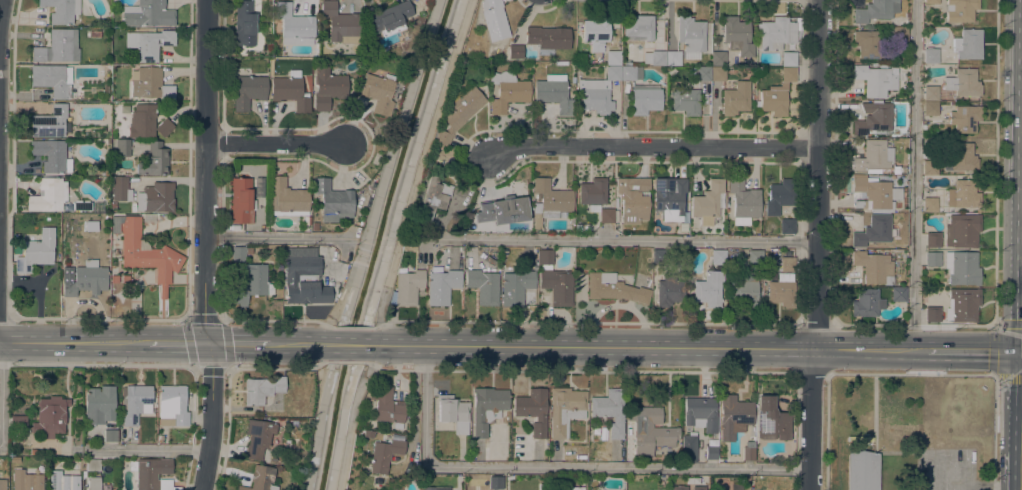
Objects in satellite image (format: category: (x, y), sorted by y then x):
building: (931, 1)
building: (61, 10)
building: (876, 10)
building: (960, 10)
building: (147, 14)
road: (2, 17)
building: (388, 18)
building: (493, 19)
building: (293, 21)
building: (243, 23)
building: (340, 23)
building: (639, 26)
building: (596, 32)
building: (775, 33)
building: (899, 33)
building: (94, 34)
building: (690, 34)
building: (737, 36)
building: (548, 37)
building: (148, 43)
building: (866, 43)
building: (967, 44)
building: (58, 47)
building: (515, 52)
building: (930, 55)
building: (654, 57)
building: (613, 58)
building: (673, 58)
building: (718, 58)
building: (788, 59)
building: (691, 71)
building: (630, 73)
building: (703, 74)
building: (718, 74)
building: (50, 79)
building: (876, 79)
building: (962, 83)
building: (149, 84)
building: (327, 88)
building: (507, 90)
building: (248, 91)
building: (290, 91)
building: (597, 91)
building: (378, 92)
building: (553, 93)
building: (930, 93)
building: (777, 94)
building: (645, 98)
building: (735, 98)
building: (685, 101)
building: (930, 108)
building: (459, 111)
building: (873, 117)
building: (964, 118)
building: (51, 122)
building: (146, 122)
road: (431, 143)
road: (277, 144)
building: (121, 148)
road: (655, 149)
building: (443, 154)
building: (51, 155)
building: (960, 157)
building: (877, 159)
building: (154, 160)
building: (930, 167)
building: (106, 172)
road: (206, 172)
road: (913, 175)
building: (259, 187)
building: (120, 189)
building: (592, 192)
building: (875, 193)
building: (963, 194)
building: (48, 195)
building: (779, 196)
building: (156, 197)
building: (433, 197)
building: (670, 197)
building: (286, 198)
building: (633, 199)
building: (241, 200)
building: (332, 201)
building: (549, 201)
building: (708, 202)
building: (743, 202)
building: (929, 204)
building: (80, 205)
building: (113, 205)
building: (501, 210)
building: (606, 215)
building: (616, 216)
building: (307, 220)
building: (315, 226)
building: (468, 226)
building: (682, 226)
building: (786, 226)
building: (961, 230)
building: (874, 231)
road: (275, 238)
road: (621, 238)
building: (932, 239)
road: (817, 244)
building: (36, 251)
building: (145, 251)
building: (239, 252)
building: (659, 256)
building: (717, 257)
building: (754, 257)
building: (932, 259)
building: (787, 264)
building: (873, 267)
building: (961, 268)
road: (1021, 273)
building: (125, 278)
building: (85, 279)
building: (114, 279)
building: (292, 279)
building: (256, 280)
building: (554, 280)
building: (441, 285)
building: (483, 286)
building: (516, 286)
building: (406, 288)
building: (614, 288)
building: (708, 289)
building: (745, 290)
building: (668, 292)
building: (781, 293)
building: (898, 294)
building: (866, 303)
building: (962, 305)
building: (932, 314)
road: (382, 315)
road: (74, 342)
road: (188, 344)
traffic signals: (210, 344)
road: (248, 344)
road: (298, 344)
road: (348, 345)
road: (648, 347)
road: (975, 351)
traffic signals: (1021, 352)
road: (373, 361)
building: (261, 389)
road: (2, 393)
building: (135, 403)
building: (99, 405)
building: (172, 406)
building: (386, 406)
building: (486, 408)
building: (565, 409)
building: (532, 410)
building: (610, 410)
building: (453, 412)
building: (700, 413)
building: (50, 416)
building: (733, 416)
road: (210, 417)
building: (772, 419)
road: (1020, 421)
building: (18, 426)
building: (650, 430)
road: (348, 432)
building: (366, 433)
building: (110, 435)
building: (164, 437)
building: (257, 437)
building: (689, 448)
road: (145, 449)
building: (711, 449)
building: (748, 451)
building: (383, 455)
building: (92, 464)
road: (561, 467)
building: (862, 471)
building: (151, 473)
building: (259, 479)
building: (26, 480)
building: (63, 481)
building: (692, 481)
building: (496, 482)
building: (93, 483)
building: (3, 484)
building: (679, 487)
building: (436, 488)
building: (576, 488)
building: (698, 488)

